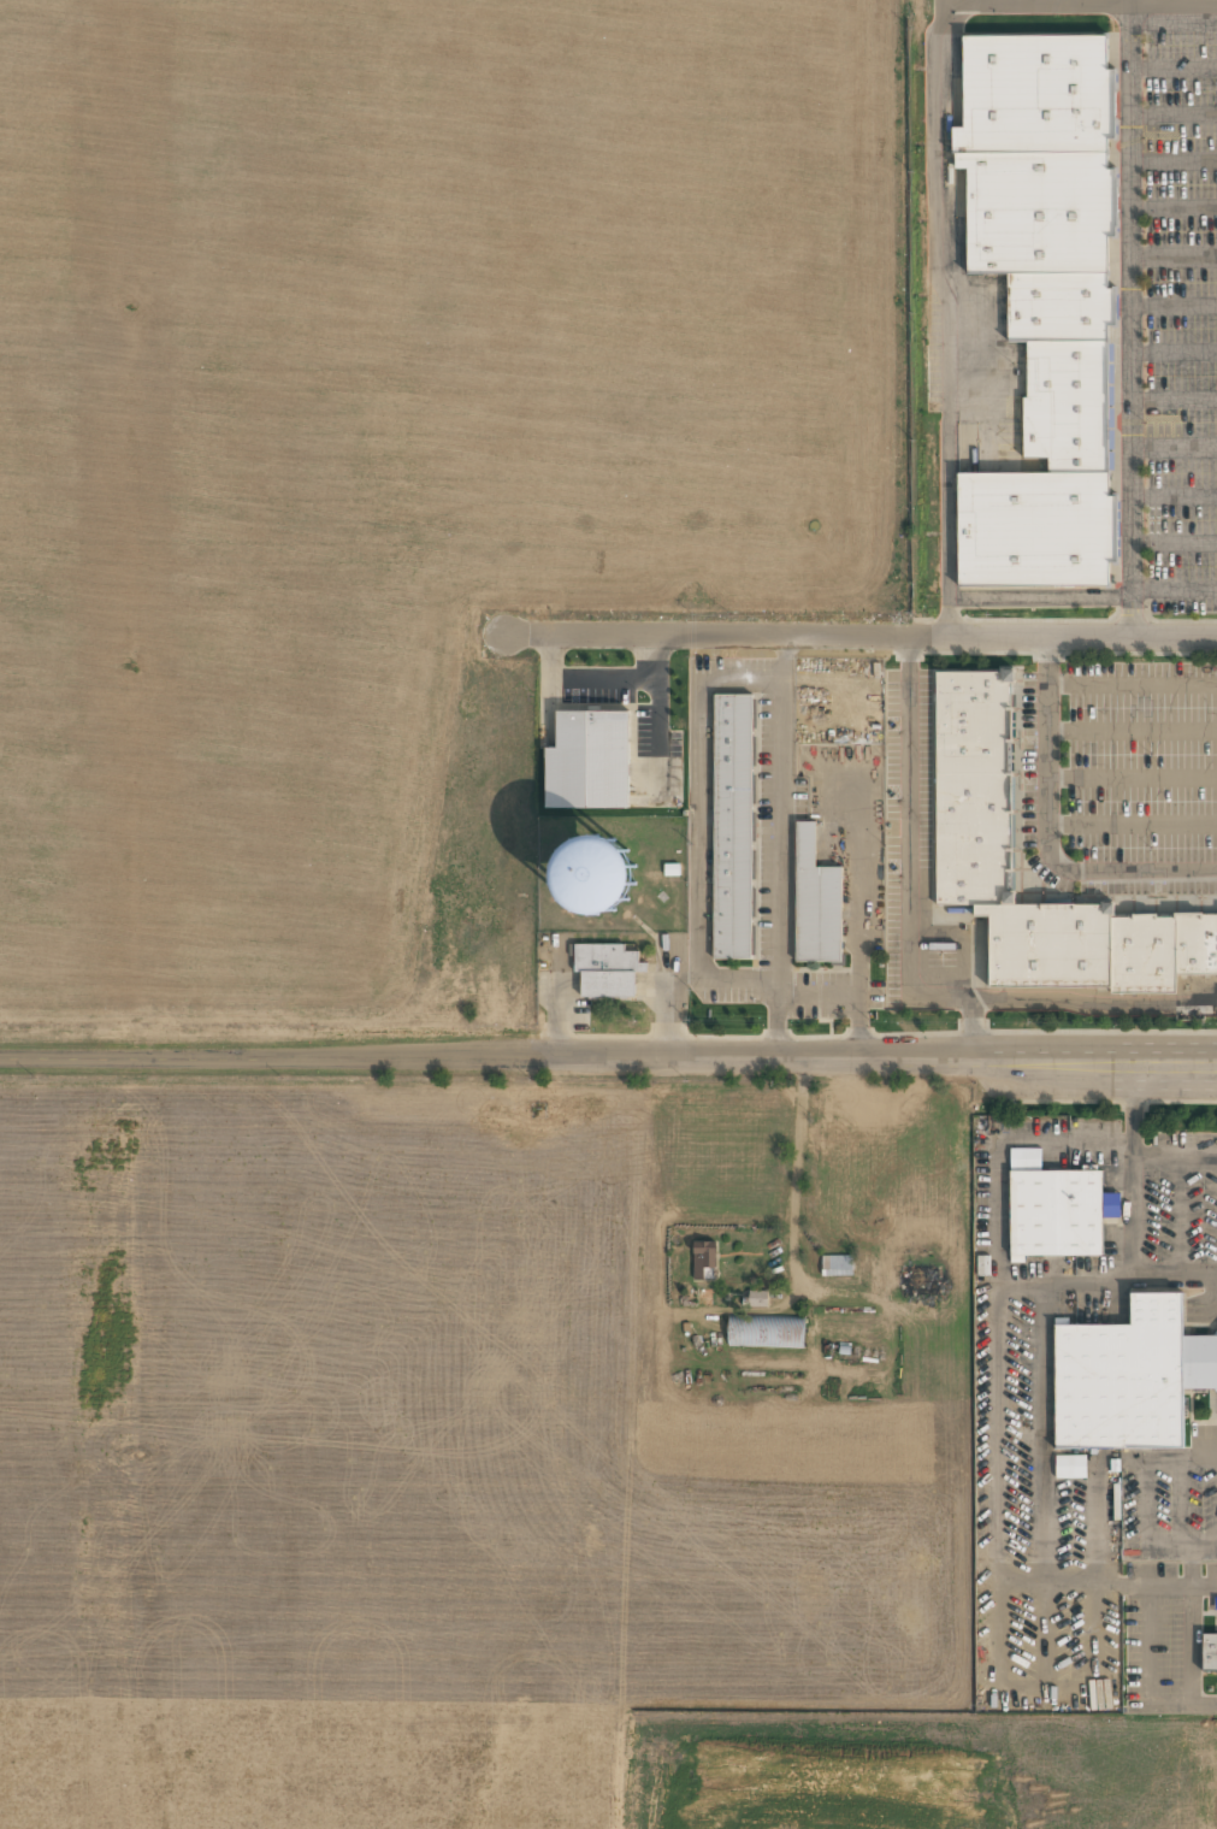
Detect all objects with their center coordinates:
road: (1077, 4)
road: (1172, 67)
building: (1032, 92)
road: (1172, 114)
road: (1172, 161)
road: (1172, 207)
building: (1033, 210)
road: (1172, 258)
building: (1056, 306)
road: (1172, 306)
road: (943, 317)
road: (1128, 318)
road: (1172, 352)
road: (1172, 399)
building: (1061, 402)
road: (1172, 446)
road: (1172, 496)
building: (1032, 527)
road: (1172, 542)
road: (1172, 588)
road: (1038, 597)
road: (858, 635)
road: (909, 648)
building: (602, 763)
building: (973, 787)
road: (1132, 821)
building: (734, 825)
road: (1046, 832)
road: (909, 867)
building: (669, 868)
water tower: (596, 873)
water tower: (595, 875)
building: (815, 899)
road: (963, 931)
building: (1042, 946)
building: (1195, 946)
building: (1139, 956)
building: (604, 968)
road: (974, 1036)
road: (609, 1052)
building: (1056, 1213)
building: (703, 1259)
building: (837, 1264)
building: (918, 1280)
building: (757, 1298)
building: (766, 1331)
building: (1126, 1375)
building: (1070, 1465)
building: (1209, 1652)

